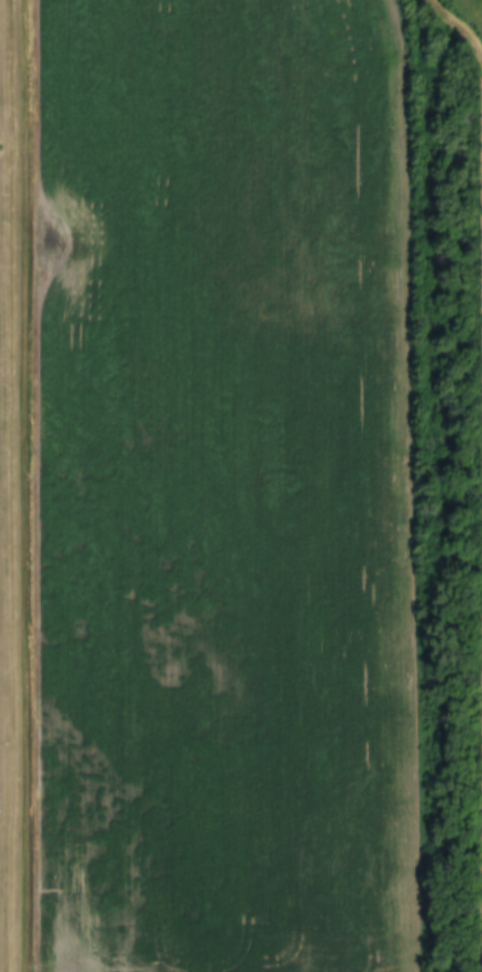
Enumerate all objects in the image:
road: (457, 24)

